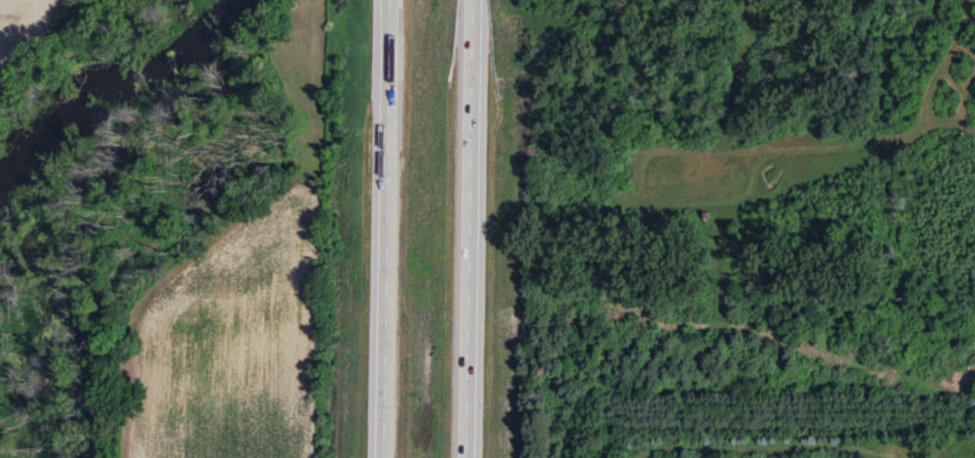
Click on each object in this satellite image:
river: (114, 98)
road: (387, 229)
road: (471, 229)

